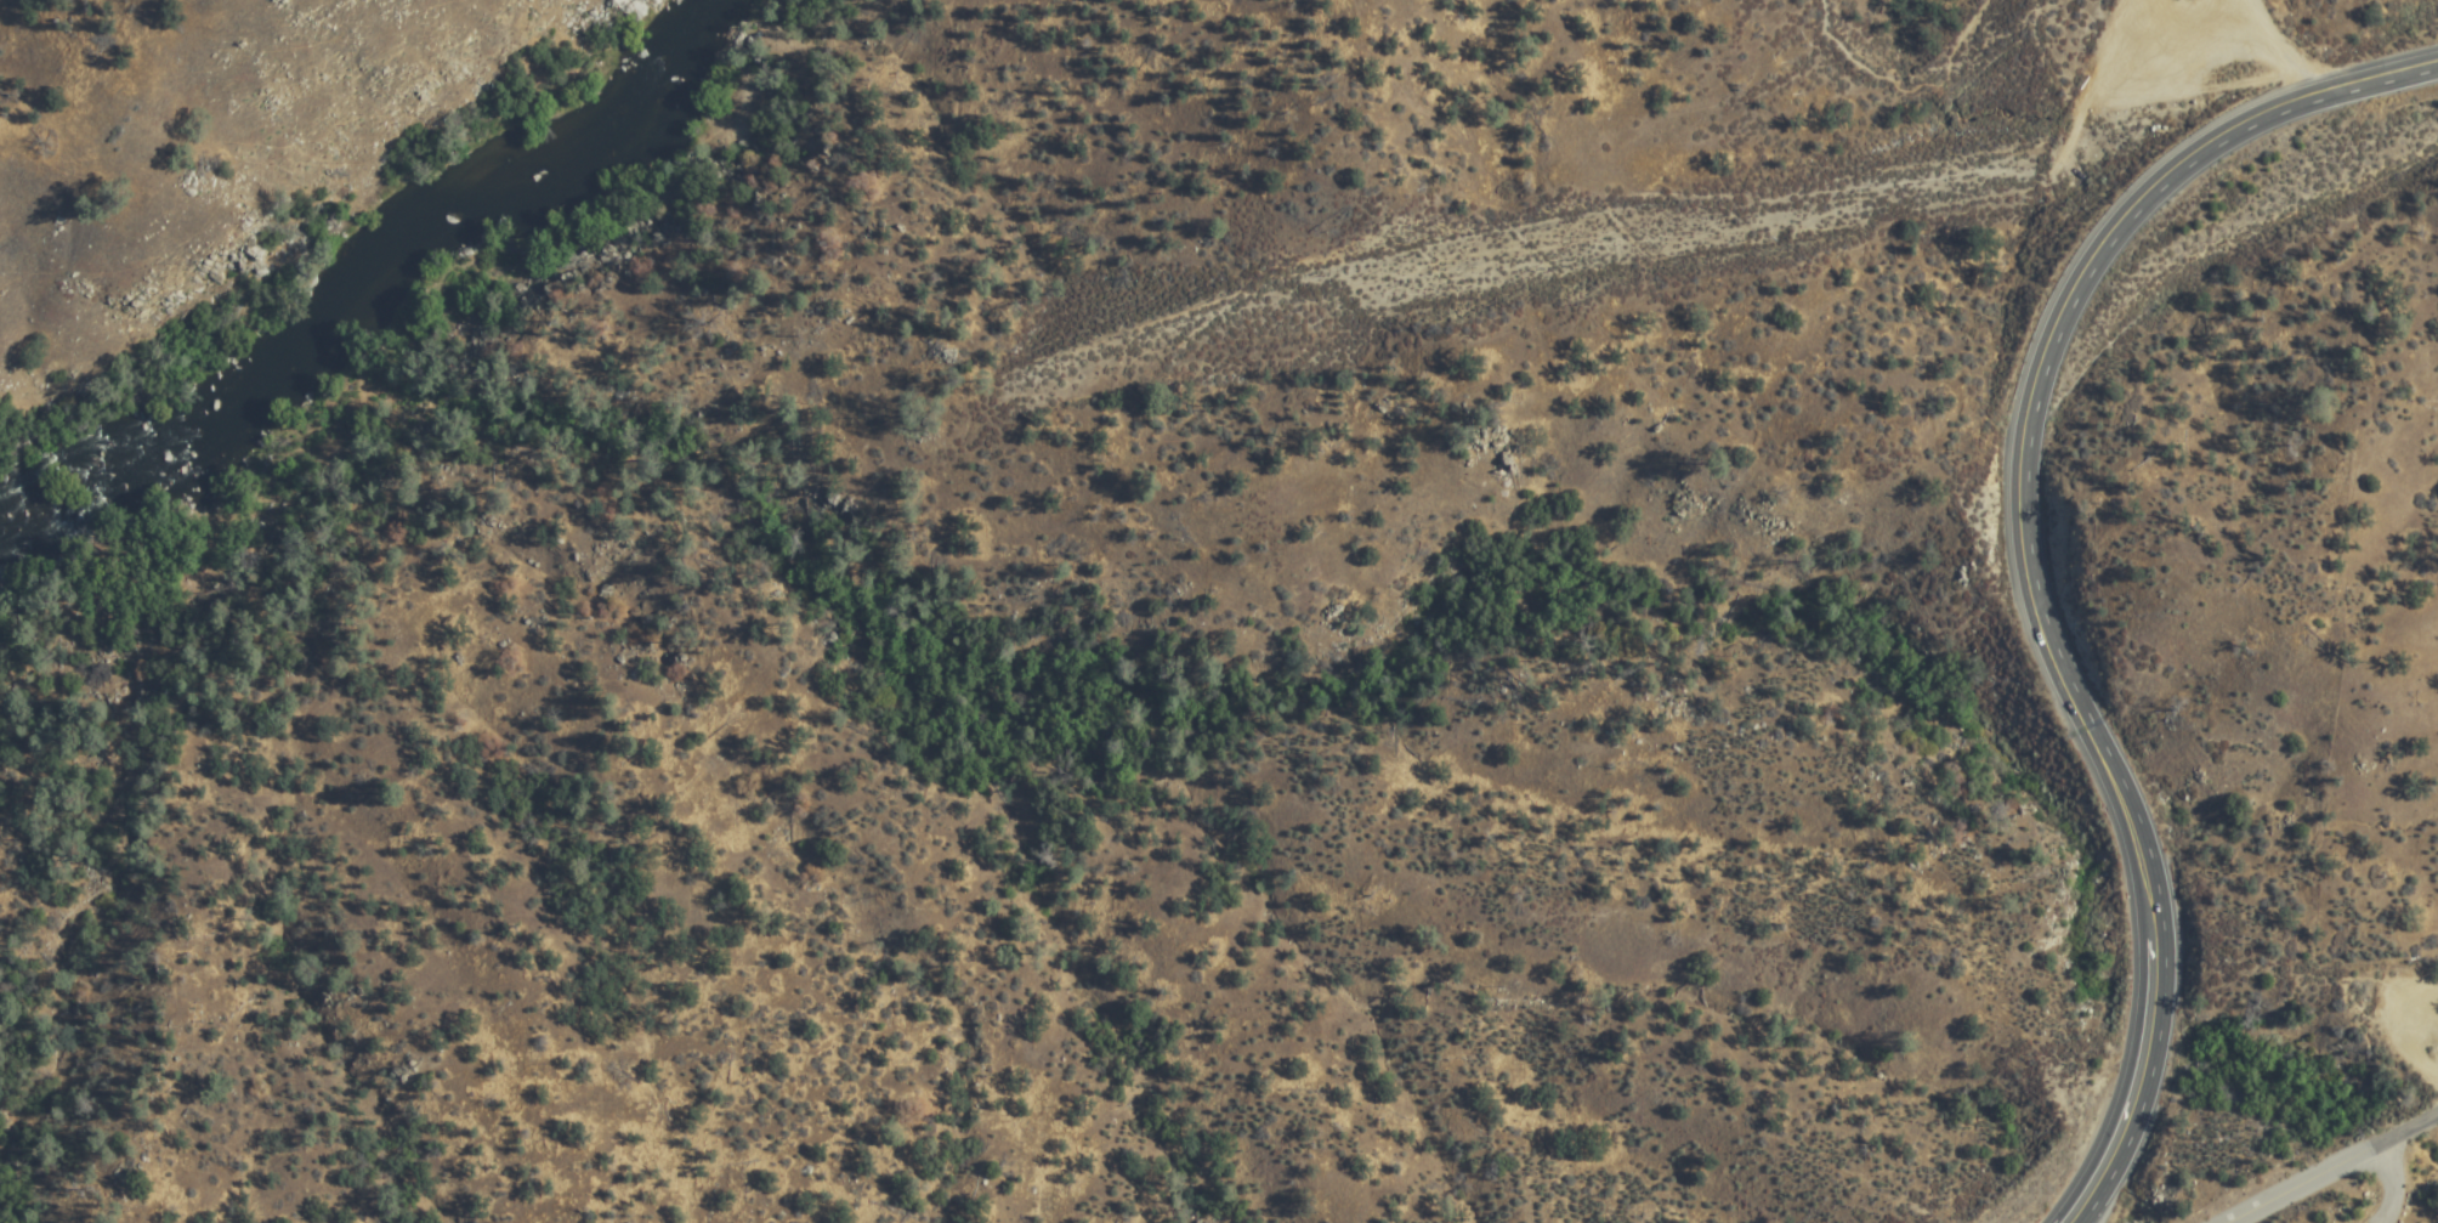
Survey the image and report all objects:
river: (550, 172)
road: (1882, 197)
river: (232, 438)
river: (45, 536)
road: (2028, 555)
road: (2330, 1168)

